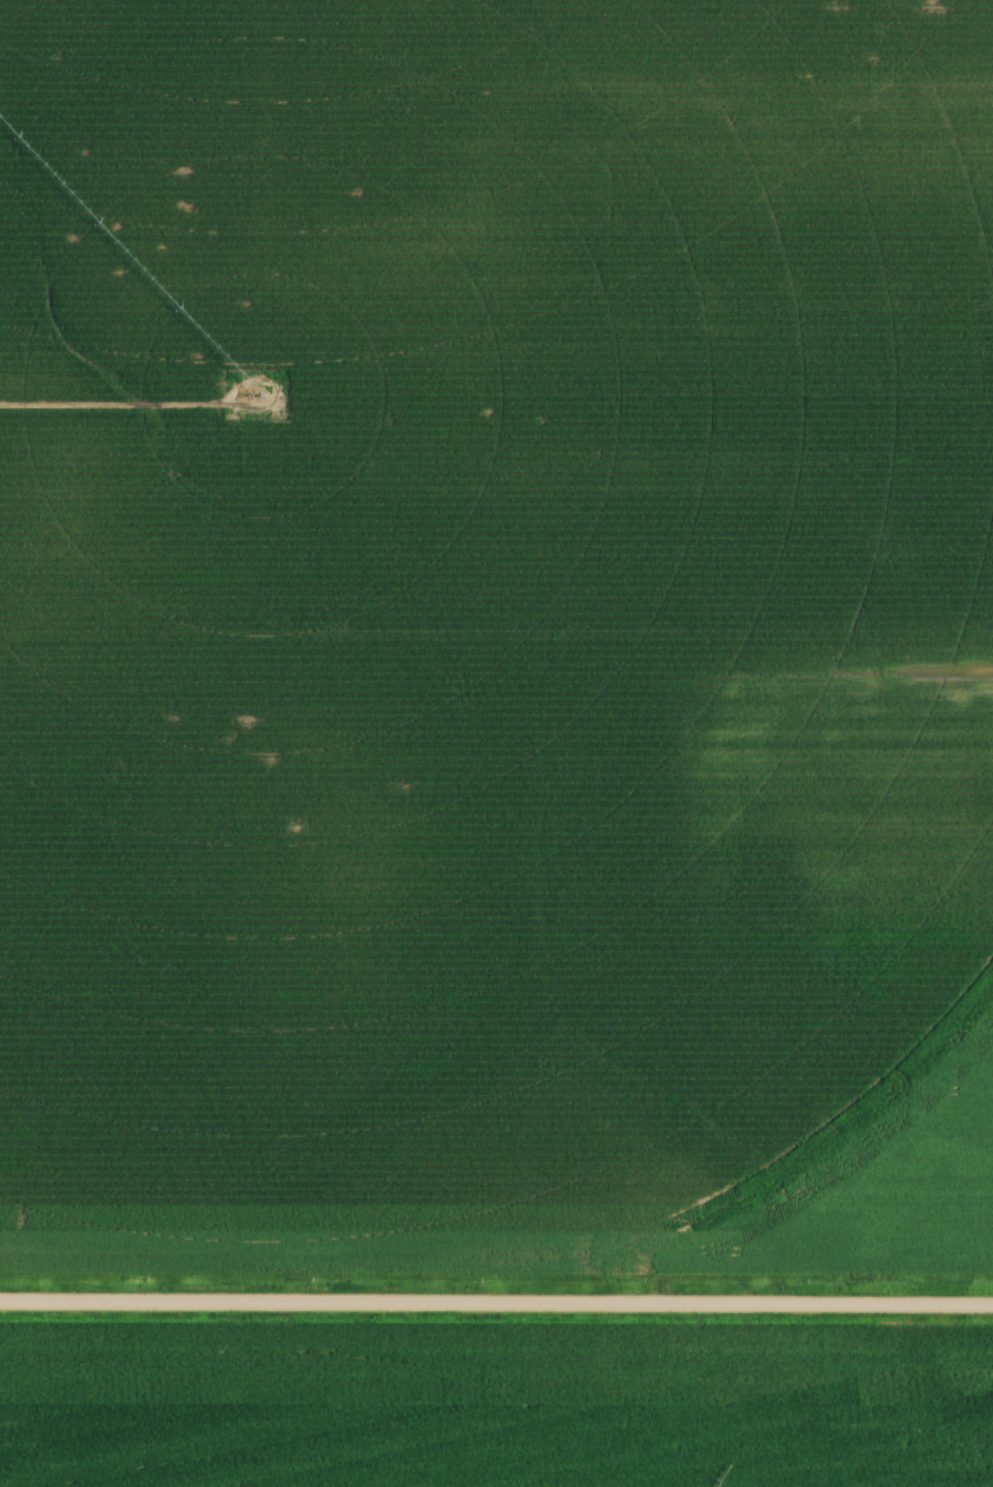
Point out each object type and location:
crop: (496, 636)
road: (496, 1304)

